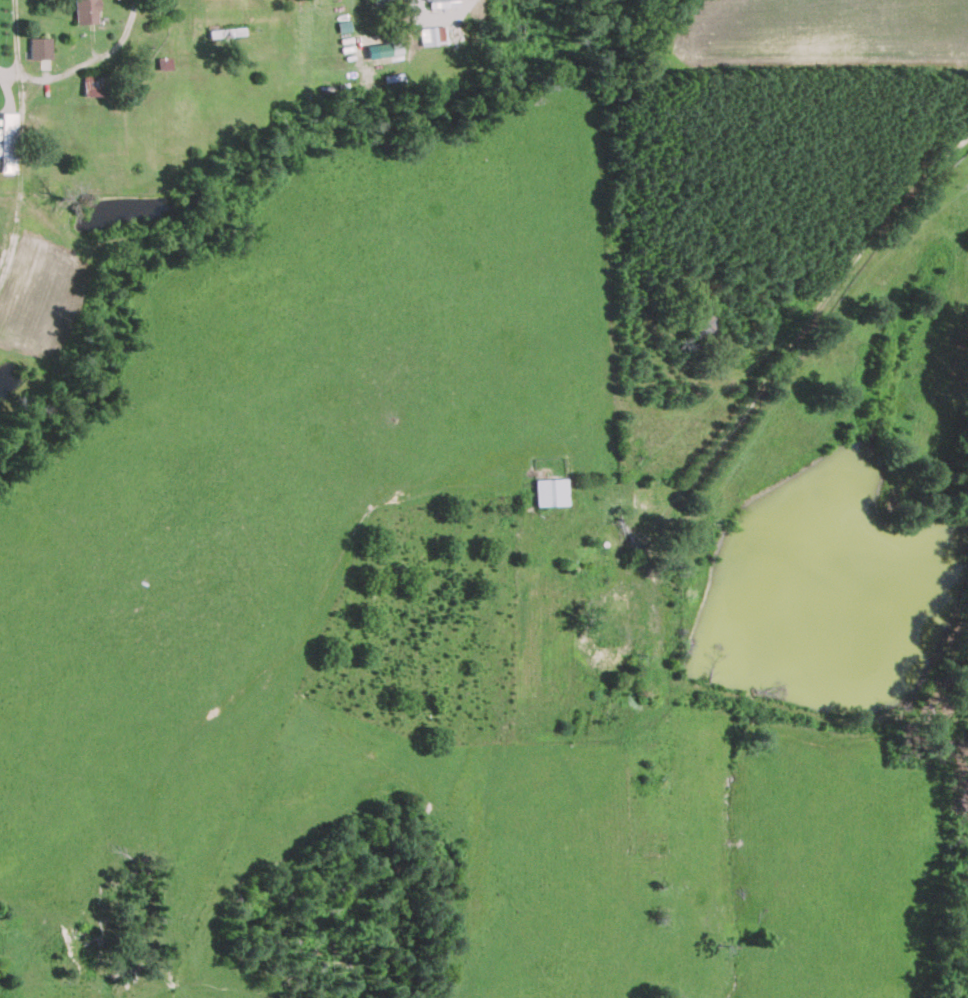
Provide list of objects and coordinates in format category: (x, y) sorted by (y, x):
building: (440, 0)
building: (379, 3)
building: (83, 11)
building: (225, 33)
building: (429, 36)
building: (394, 51)
building: (39, 52)
road: (17, 81)
building: (6, 142)
road: (841, 277)
building: (548, 492)
building: (656, 496)
building: (633, 615)

